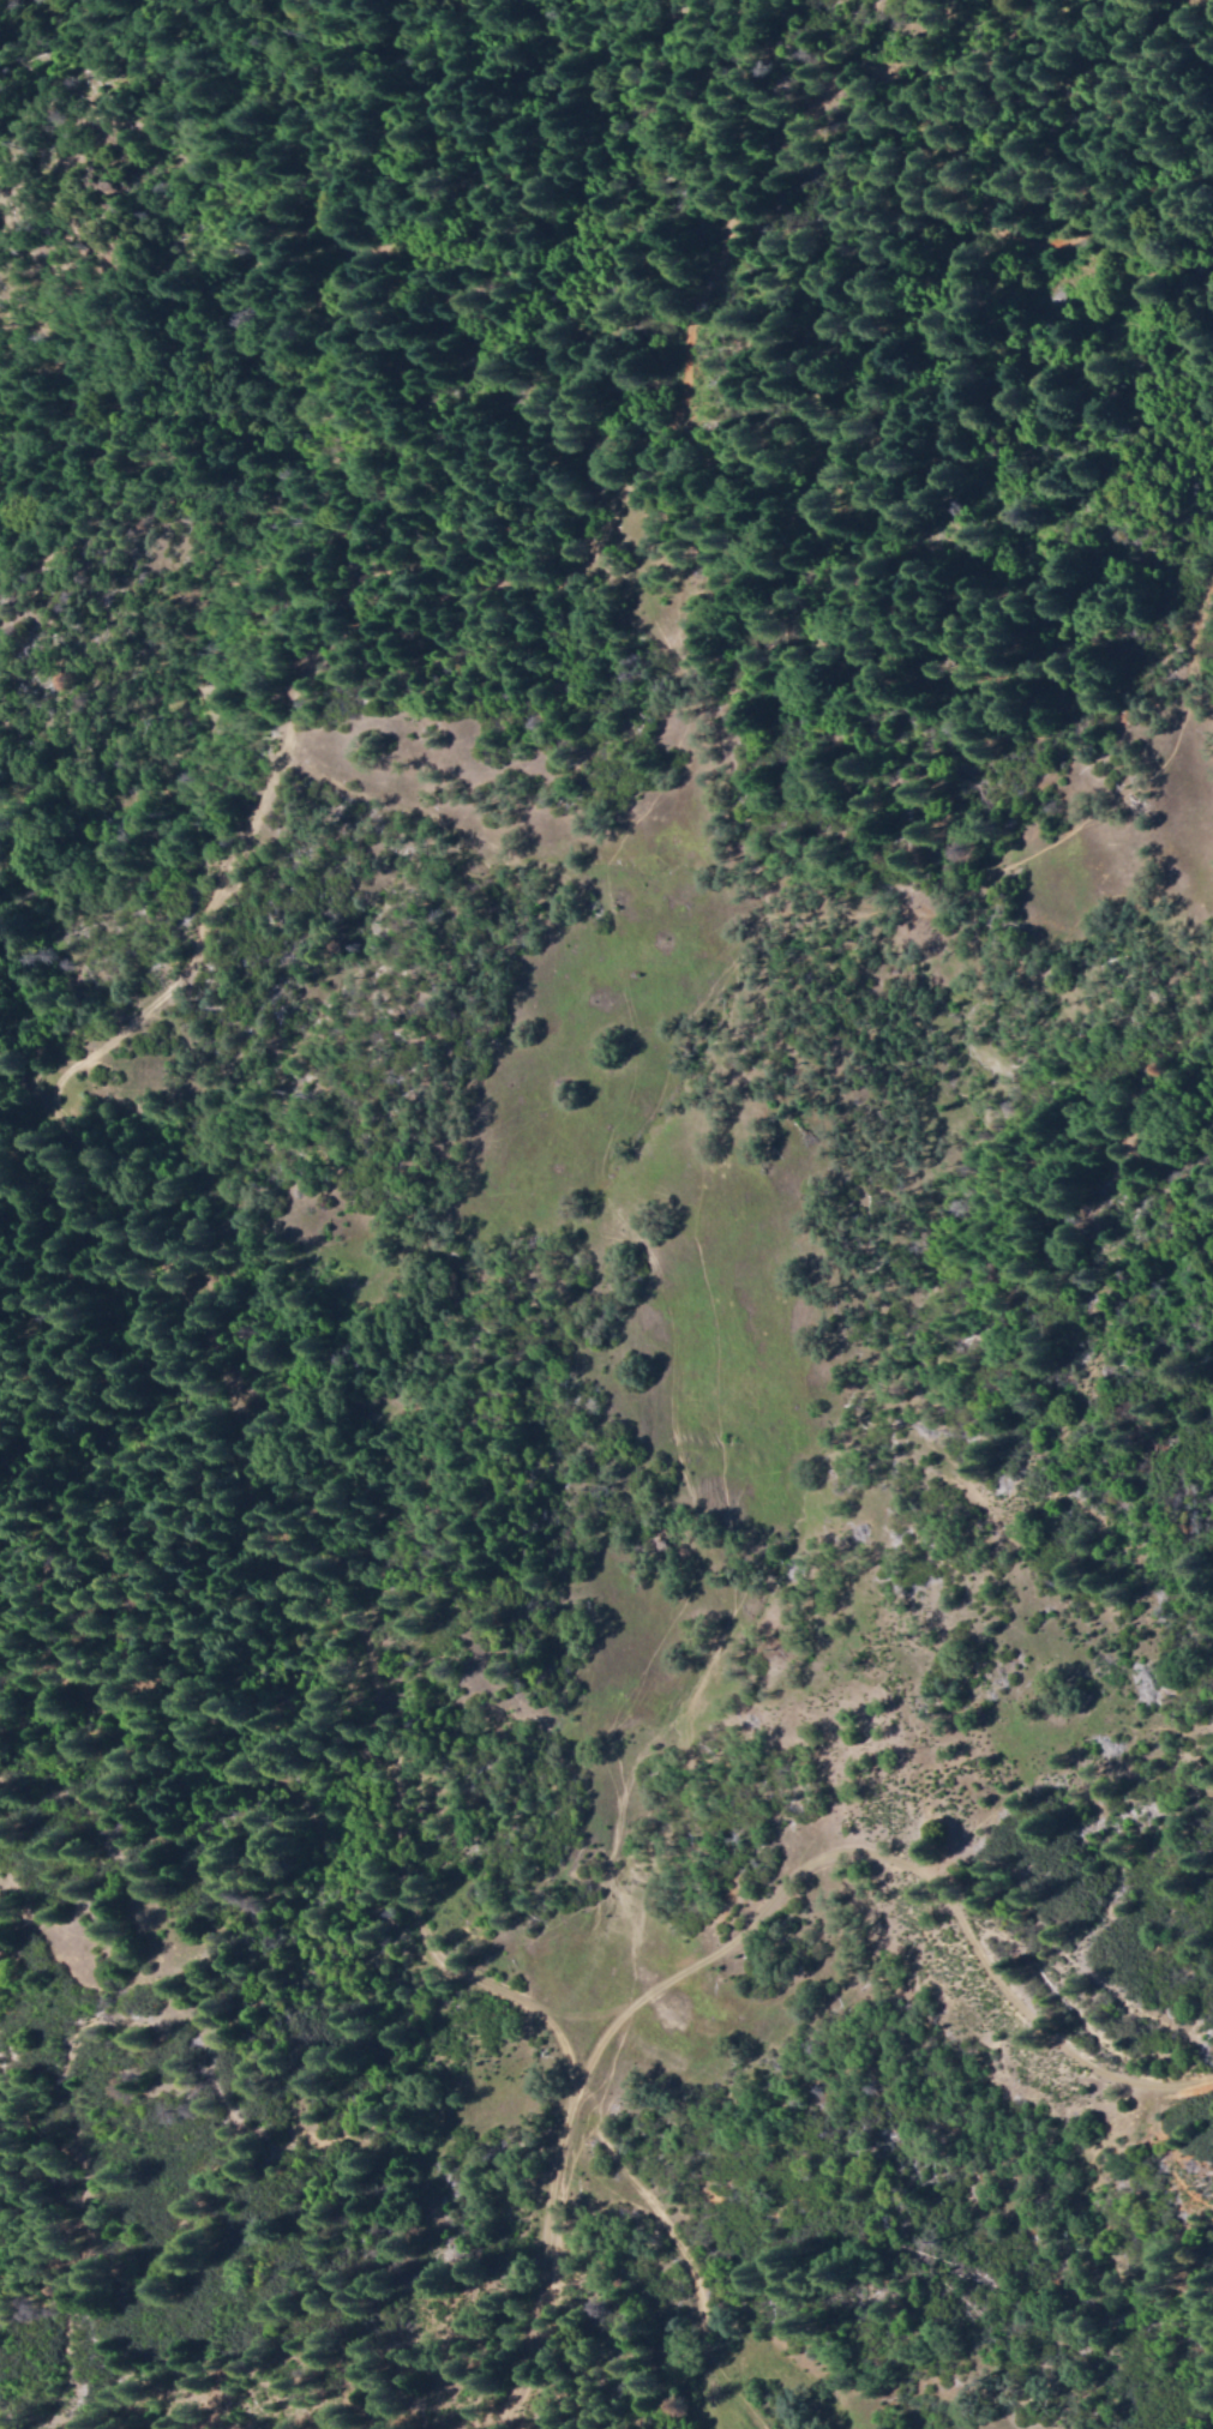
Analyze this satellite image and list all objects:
road: (661, 434)
road: (301, 1581)
road: (752, 1929)

